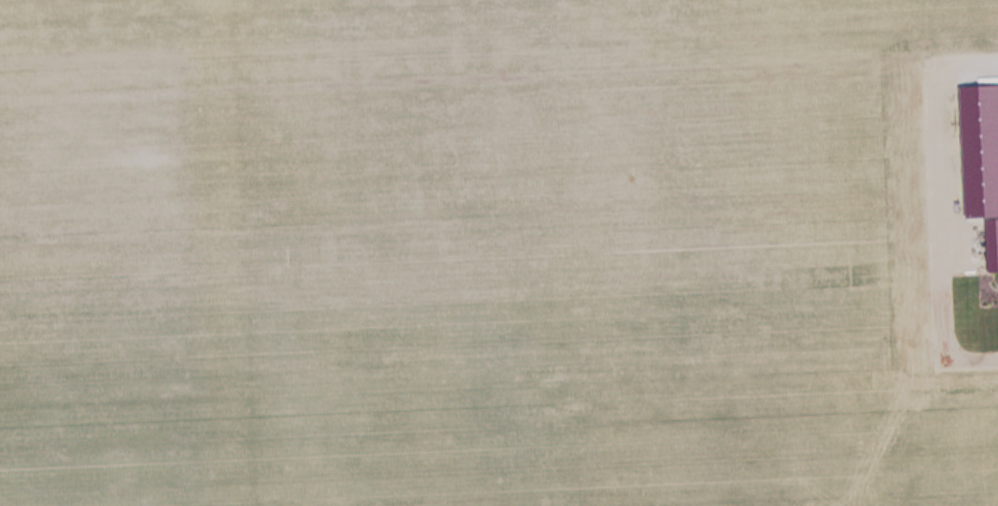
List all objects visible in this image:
building: (984, 156)

